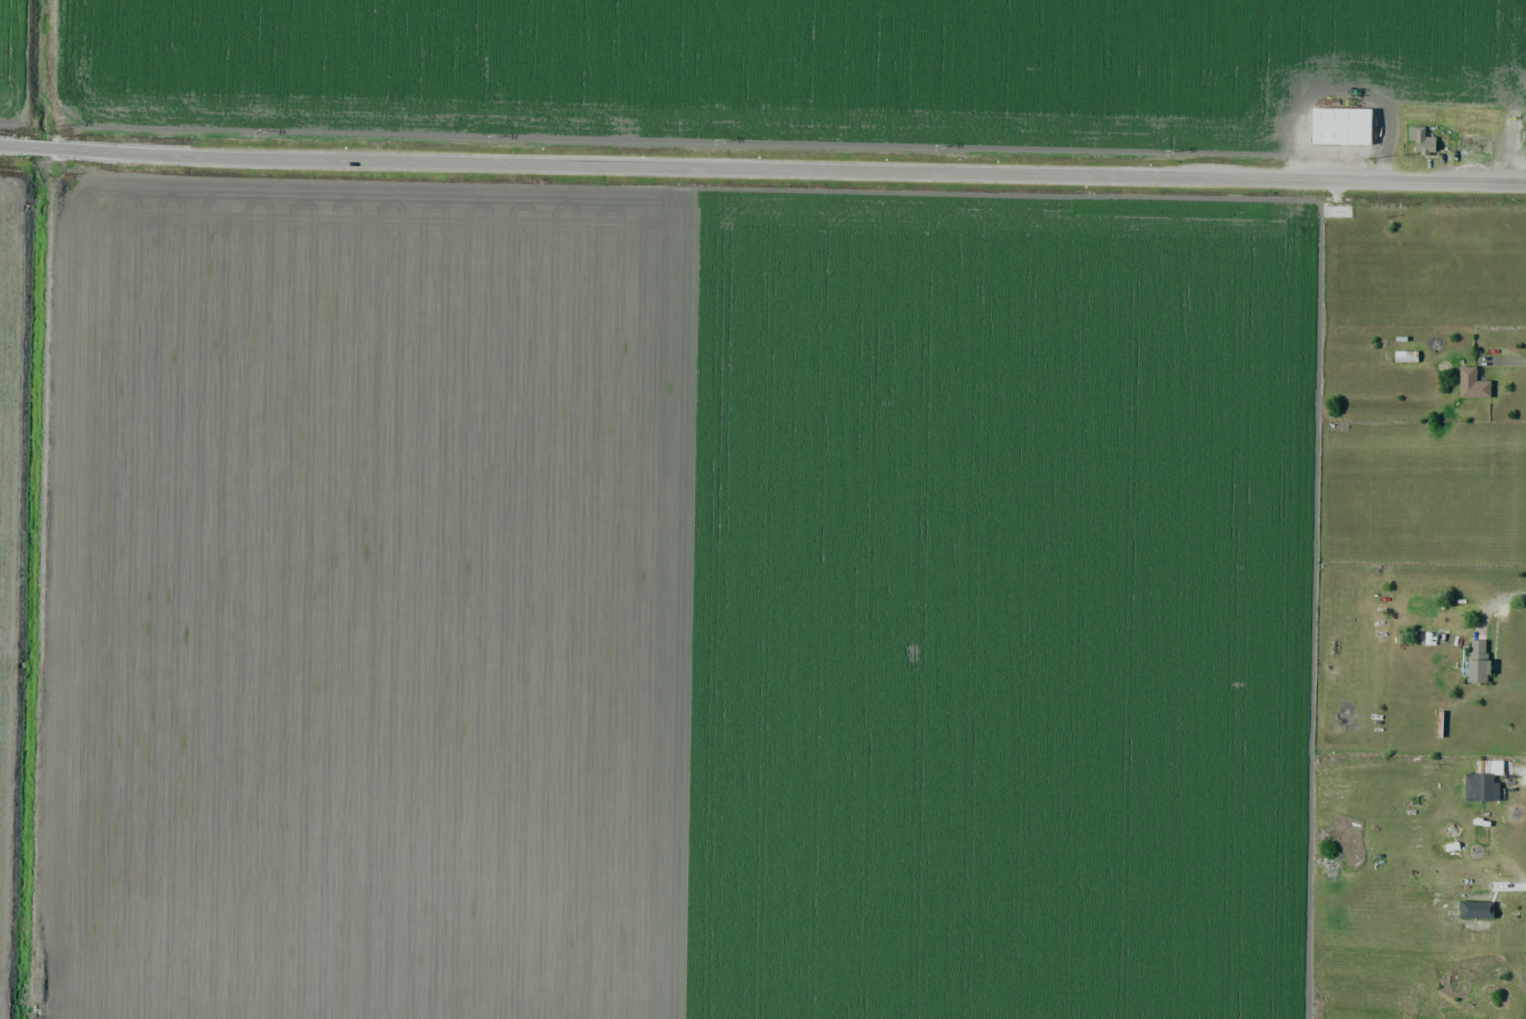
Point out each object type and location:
building: (1341, 126)
building: (1421, 140)
building: (1476, 145)
road: (762, 162)
building: (1472, 383)
building: (1478, 661)
building: (1481, 786)
building: (1491, 901)

